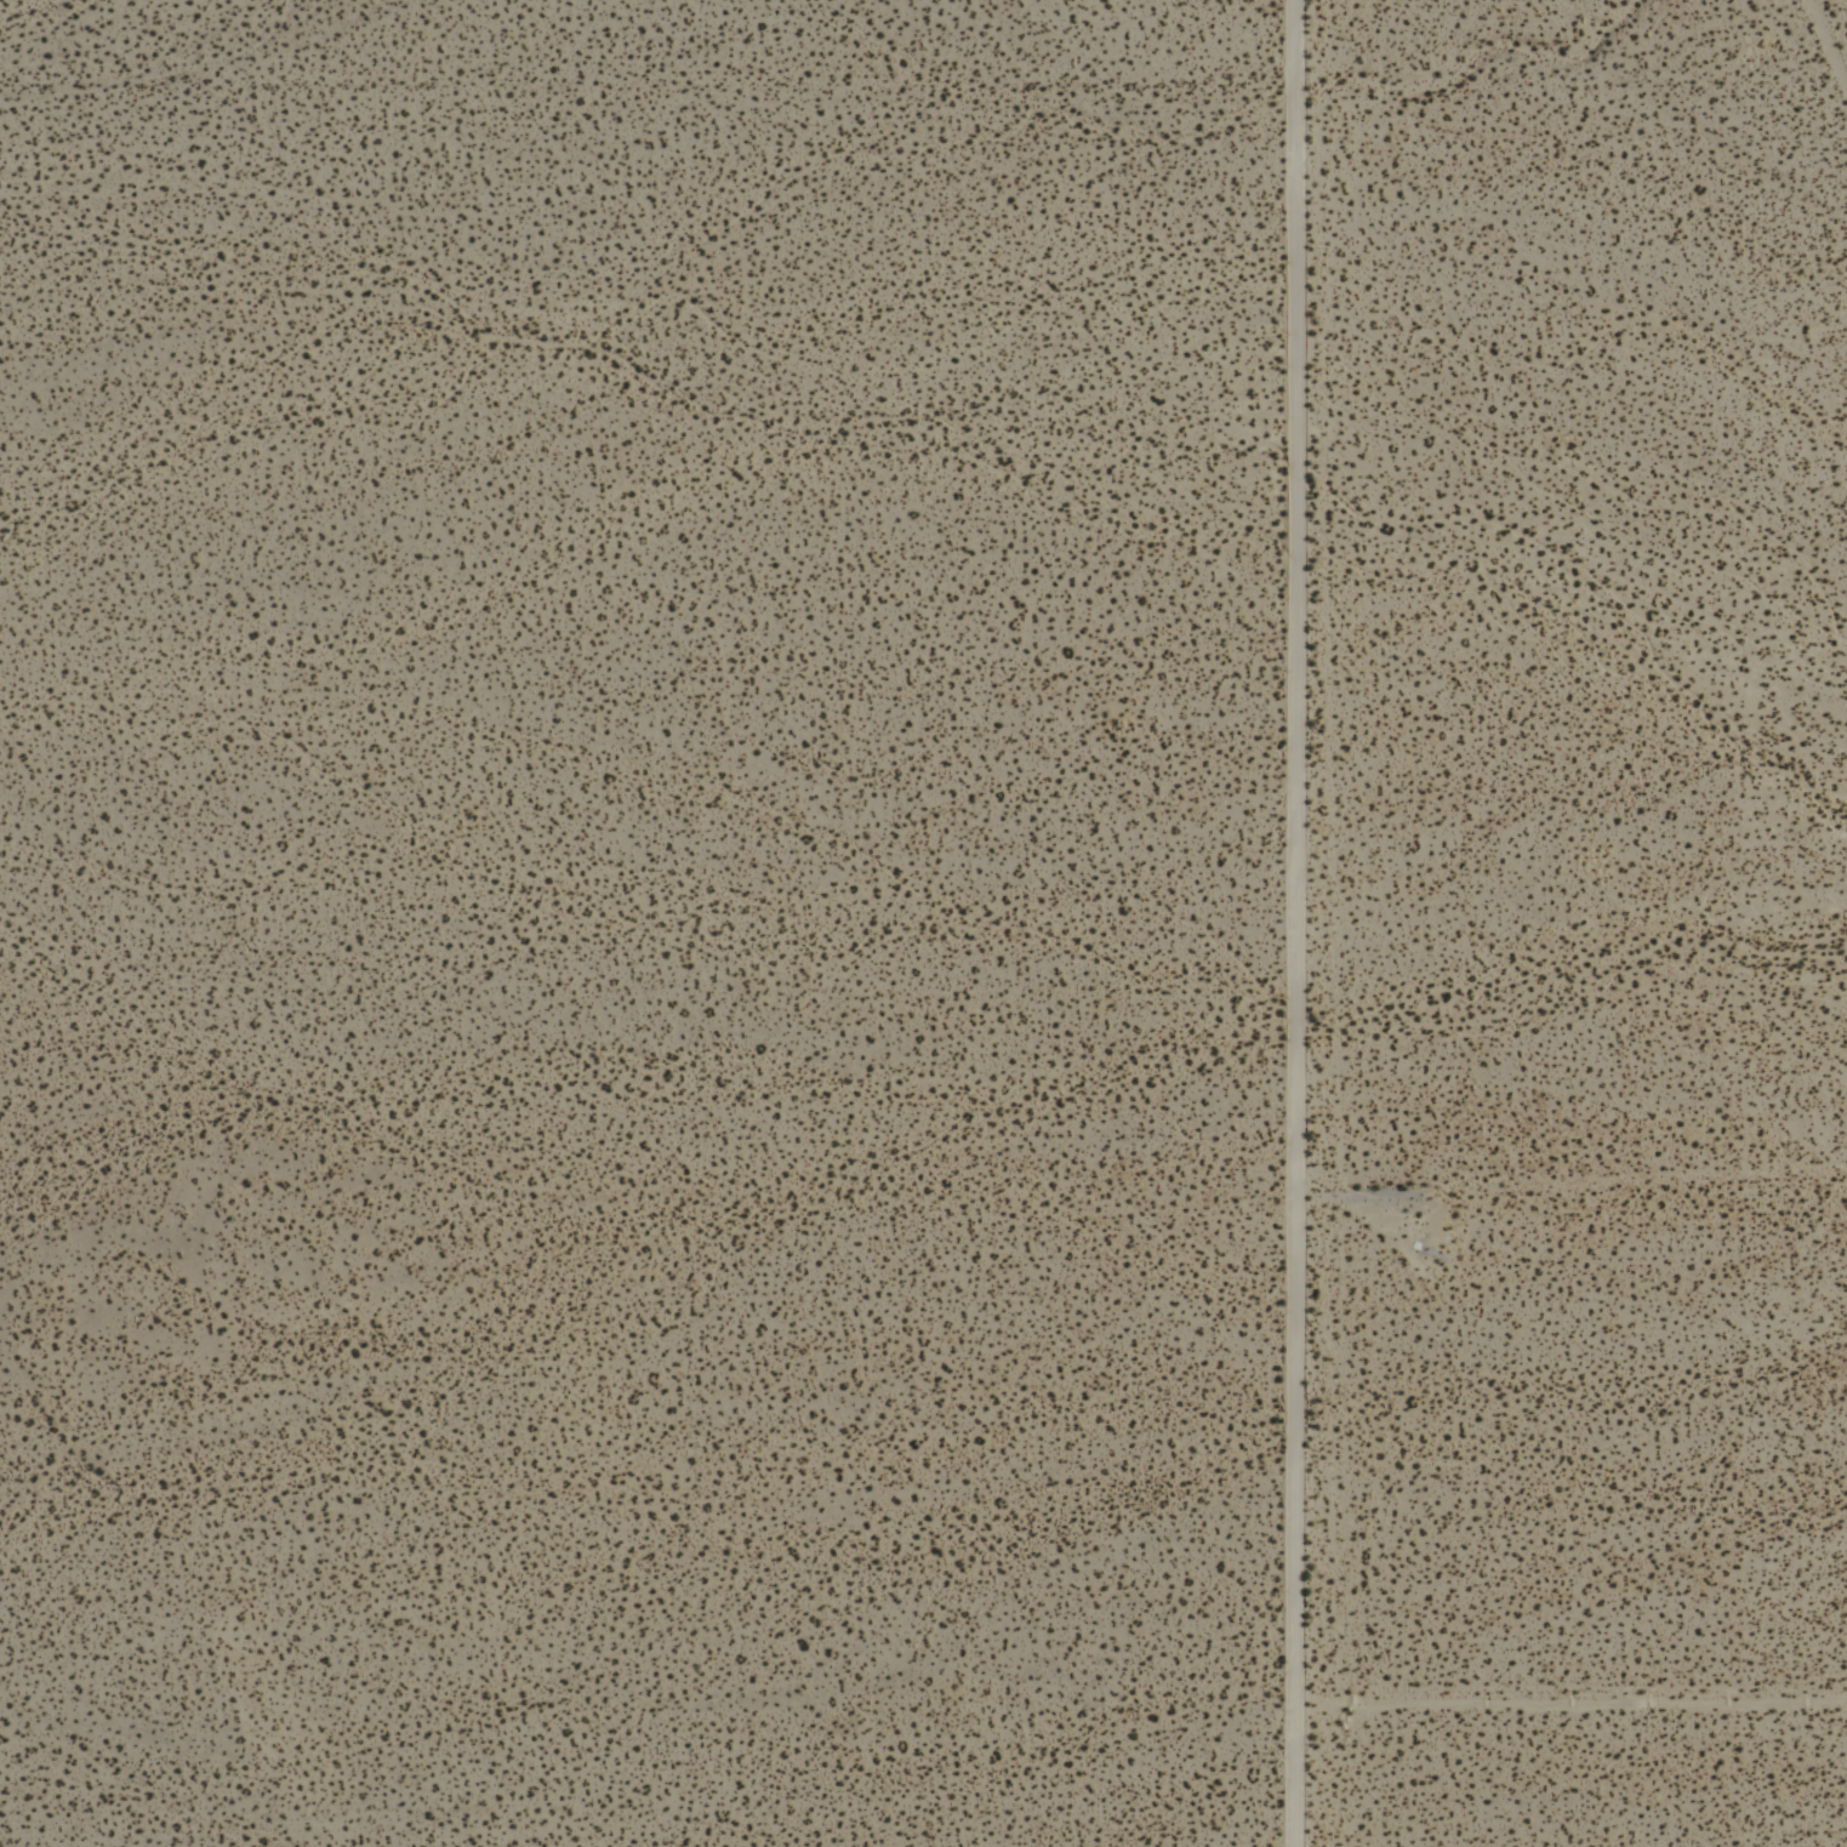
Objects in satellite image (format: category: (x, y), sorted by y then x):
road: (1294, 851)
road: (1569, 1699)
road: (1292, 1774)

